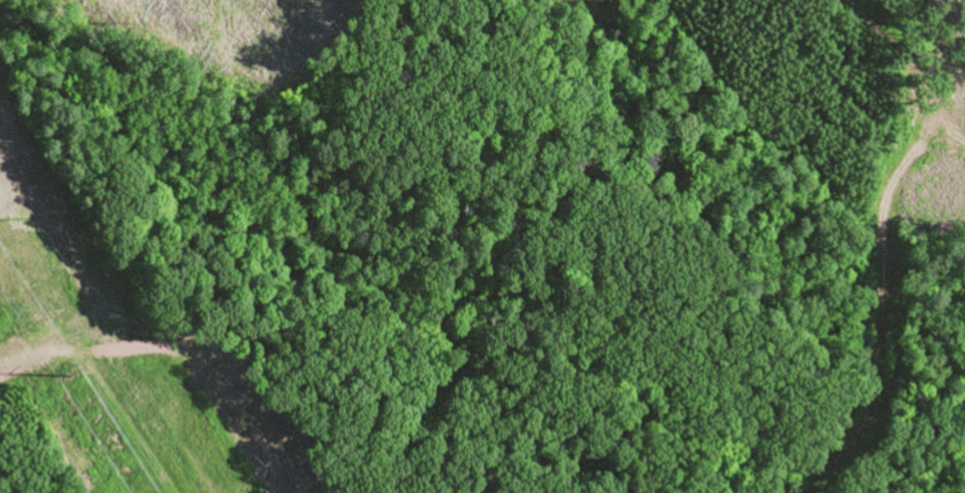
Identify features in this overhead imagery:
power tower: (67, 372)
road: (112, 383)

